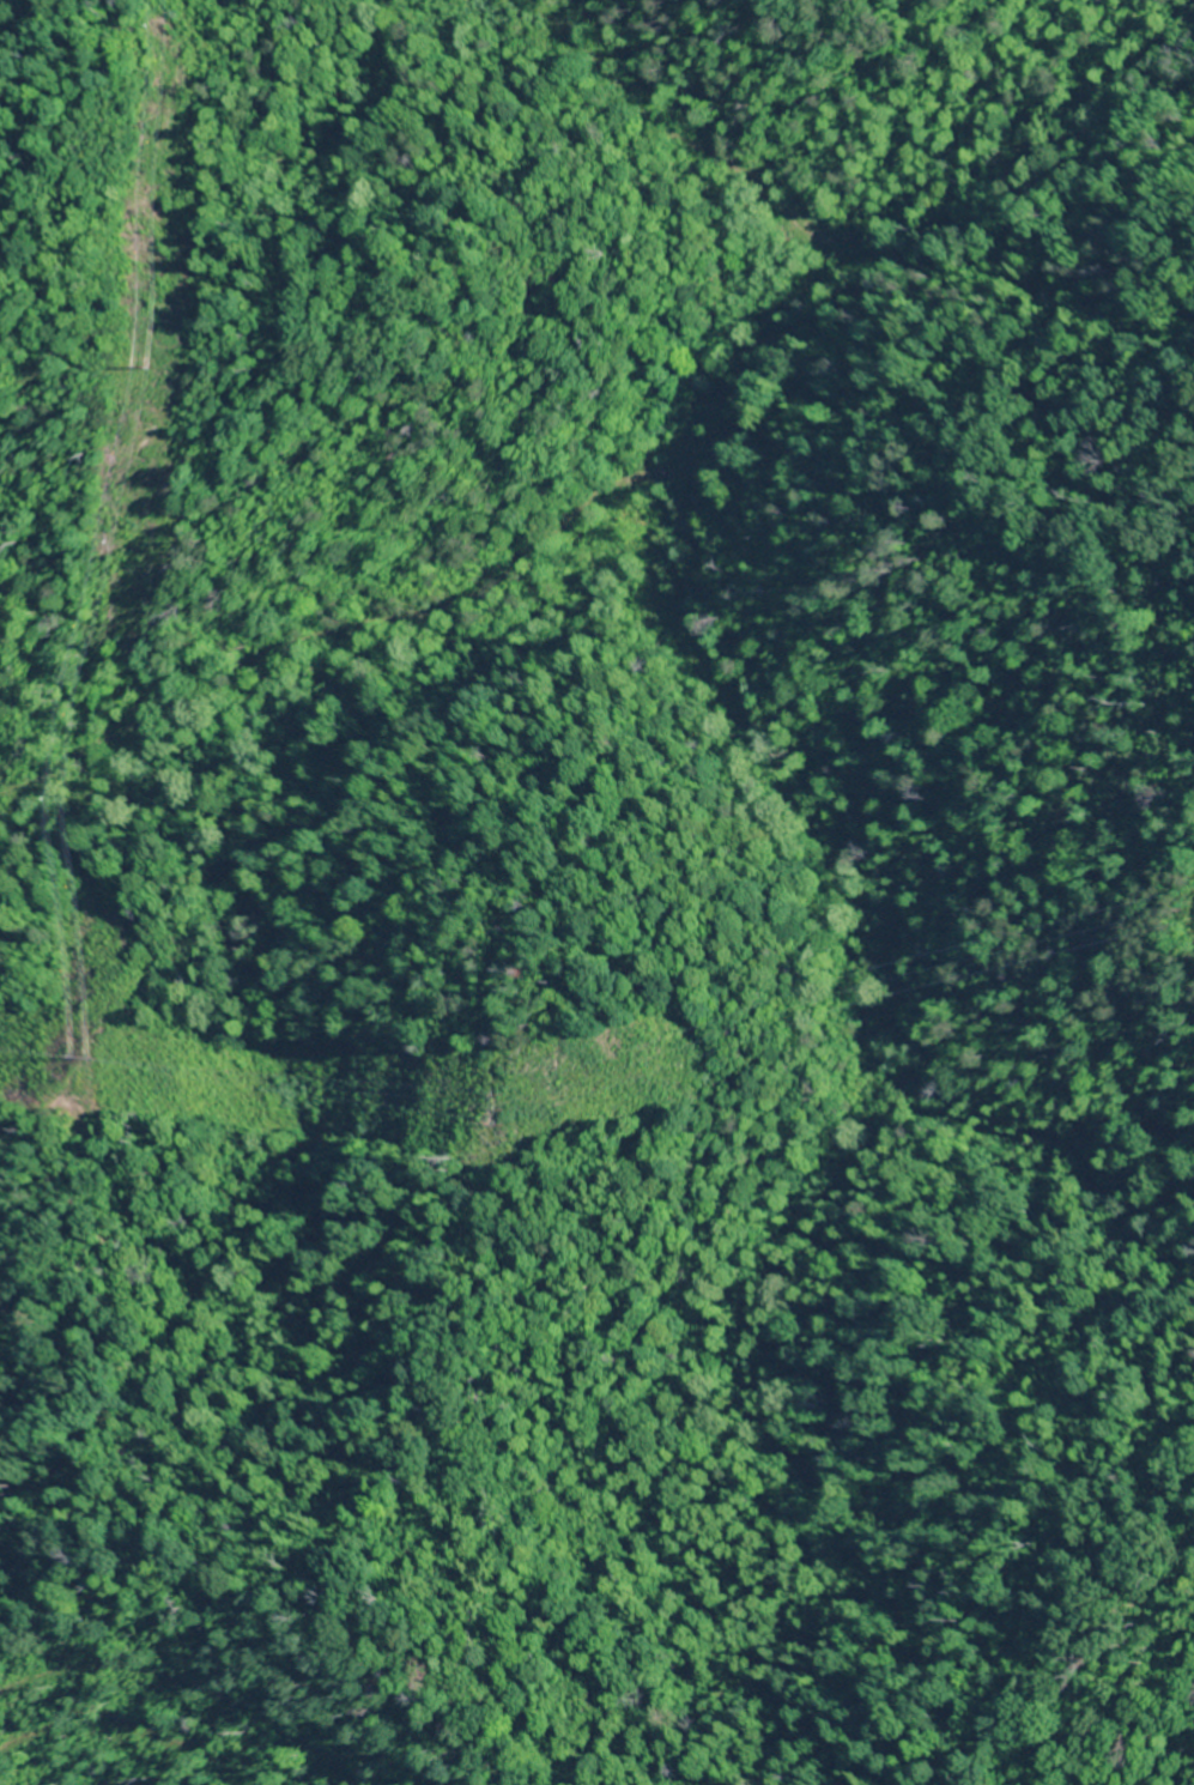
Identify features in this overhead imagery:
road: (623, 488)

